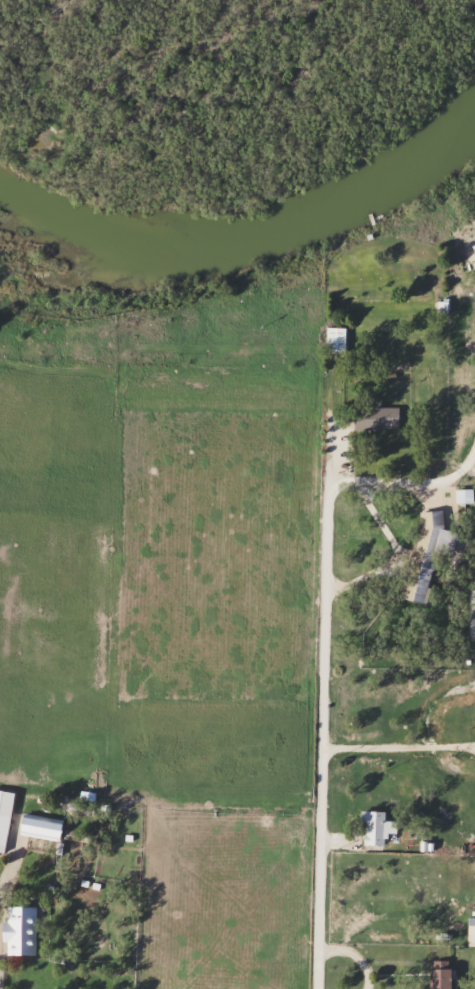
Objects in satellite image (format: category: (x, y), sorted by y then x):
river: (244, 237)
building: (473, 248)
building: (334, 340)
building: (373, 418)
building: (463, 497)
building: (425, 557)
building: (4, 818)
building: (39, 828)
building: (371, 829)
building: (19, 932)
building: (470, 933)
building: (439, 975)

